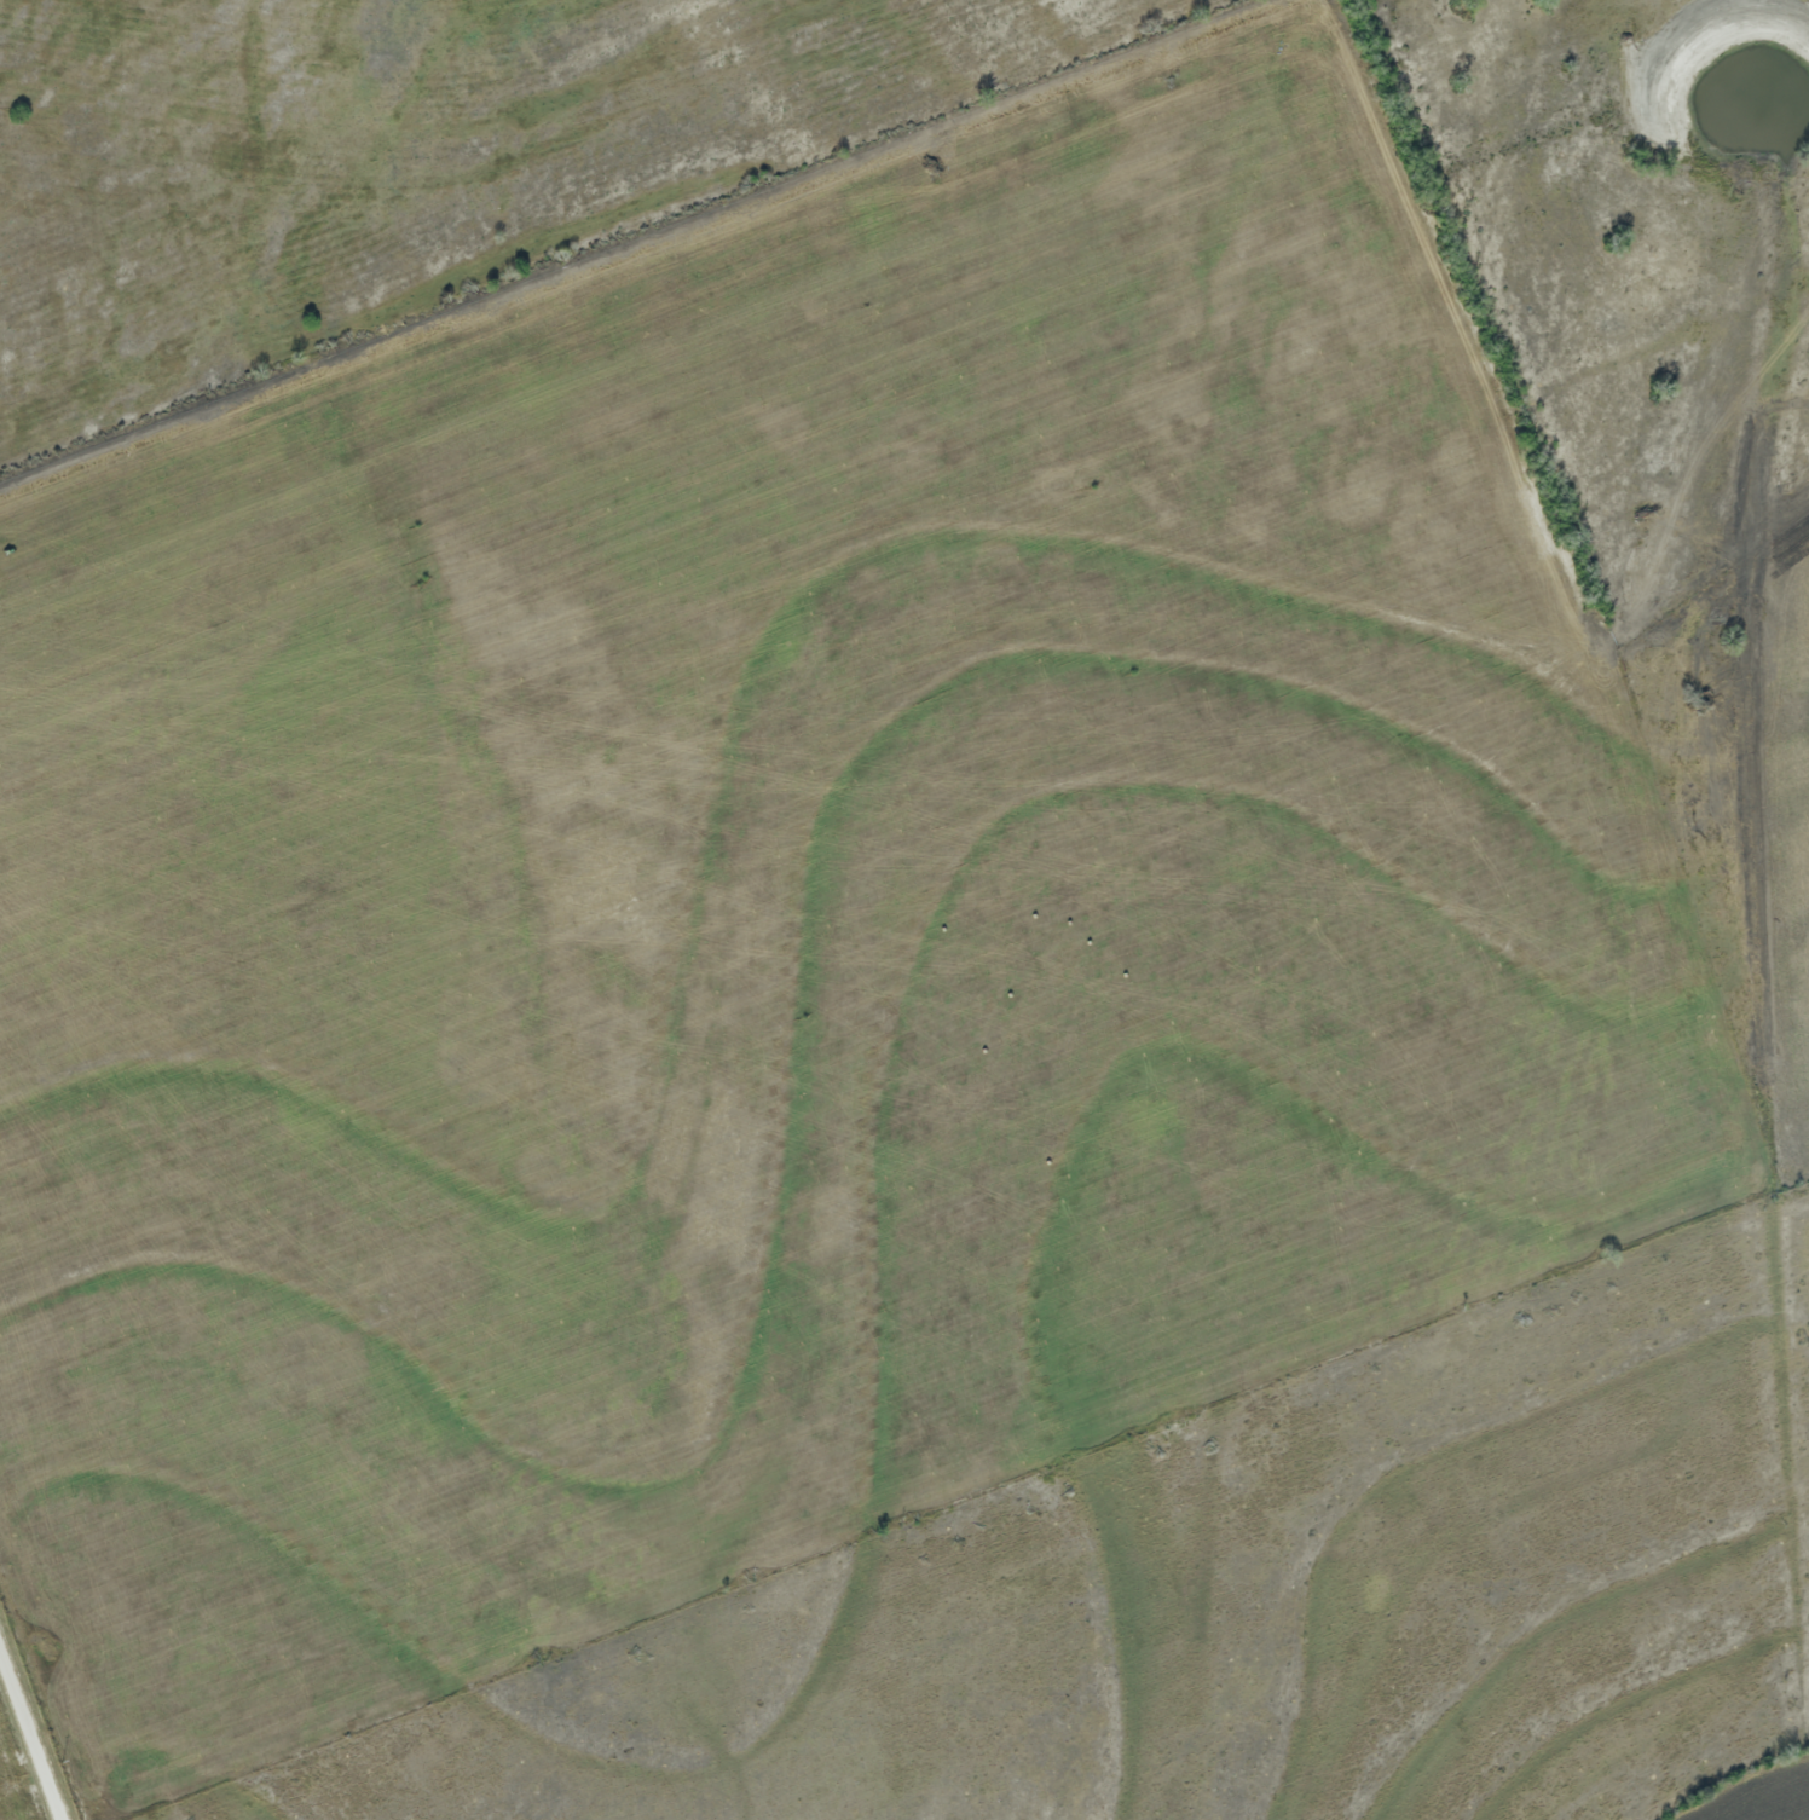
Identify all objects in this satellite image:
road: (31, 1731)

